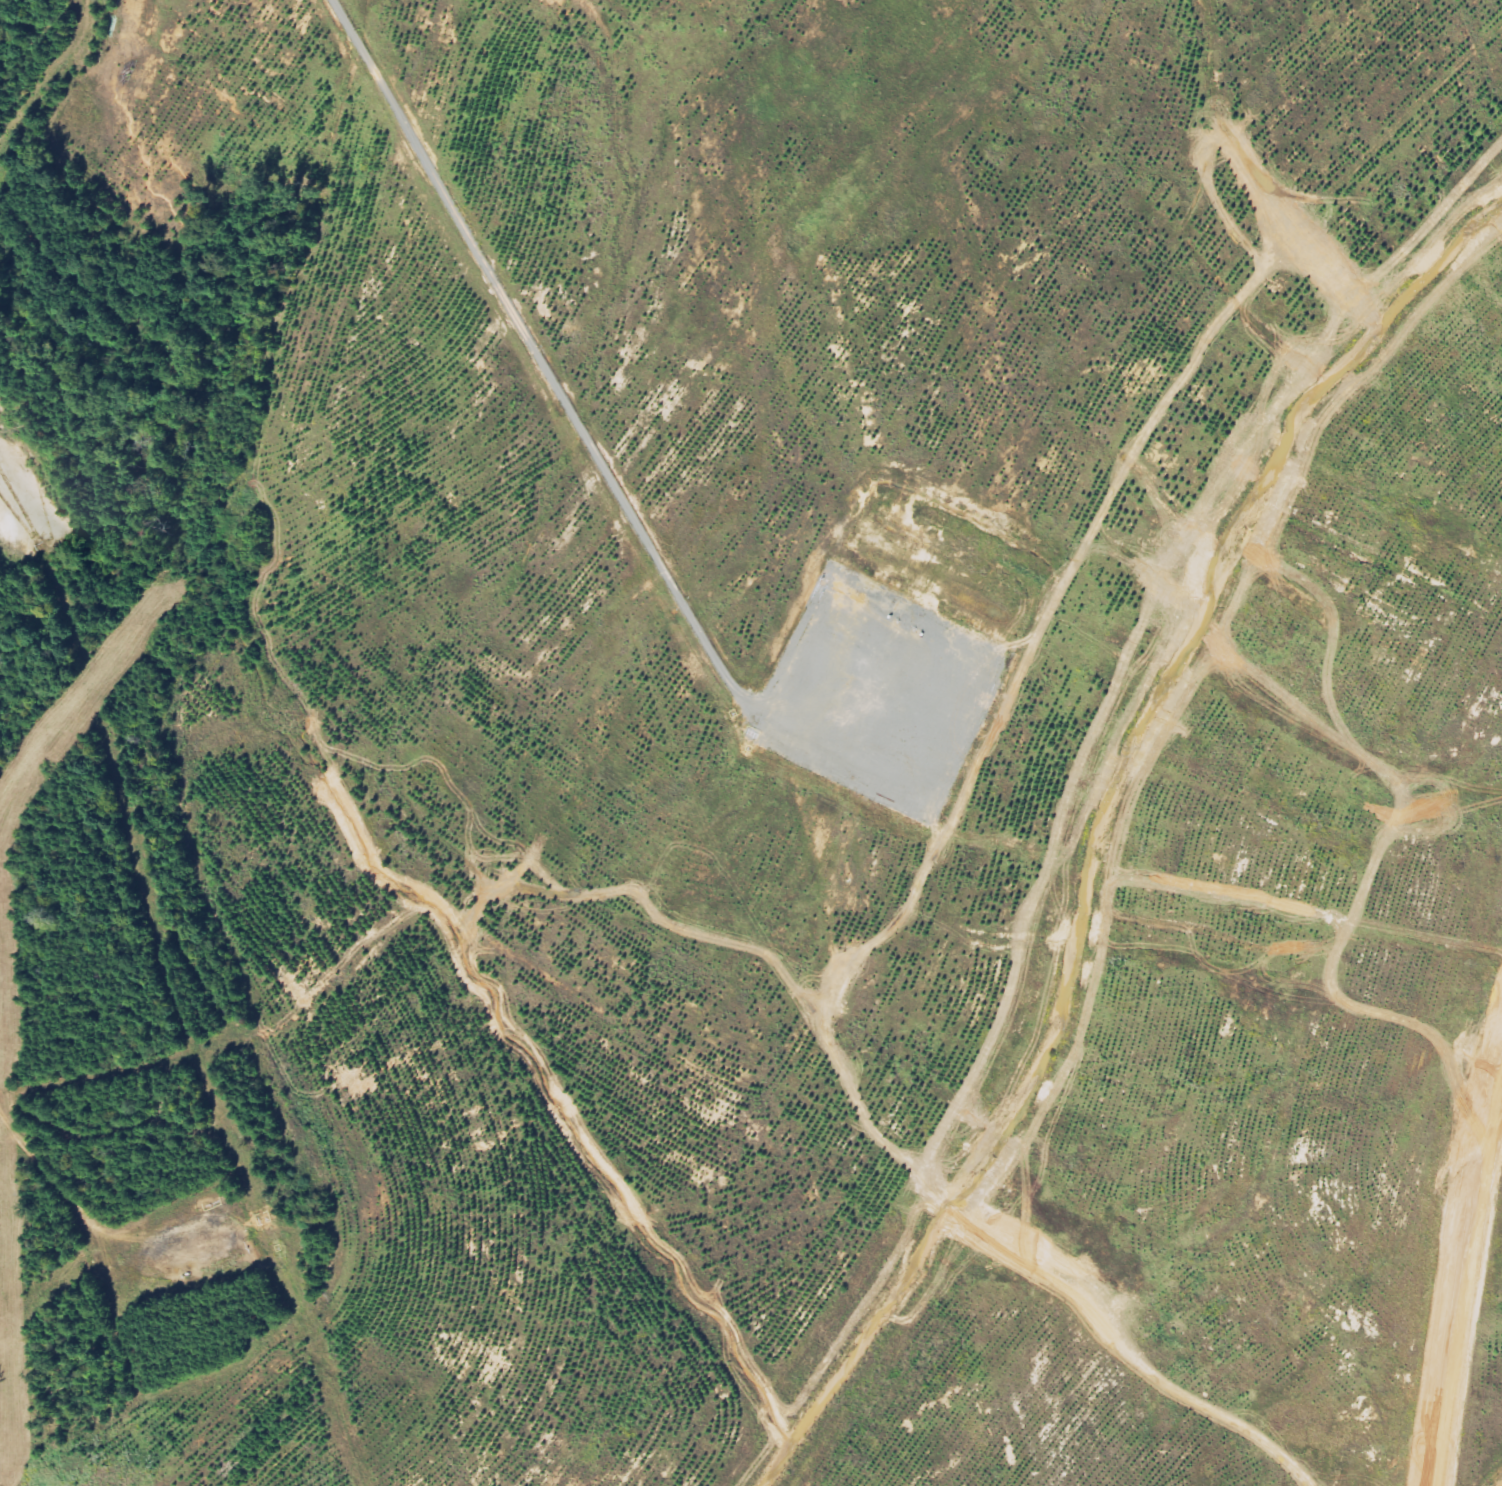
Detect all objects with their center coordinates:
road: (1402, 1267)

